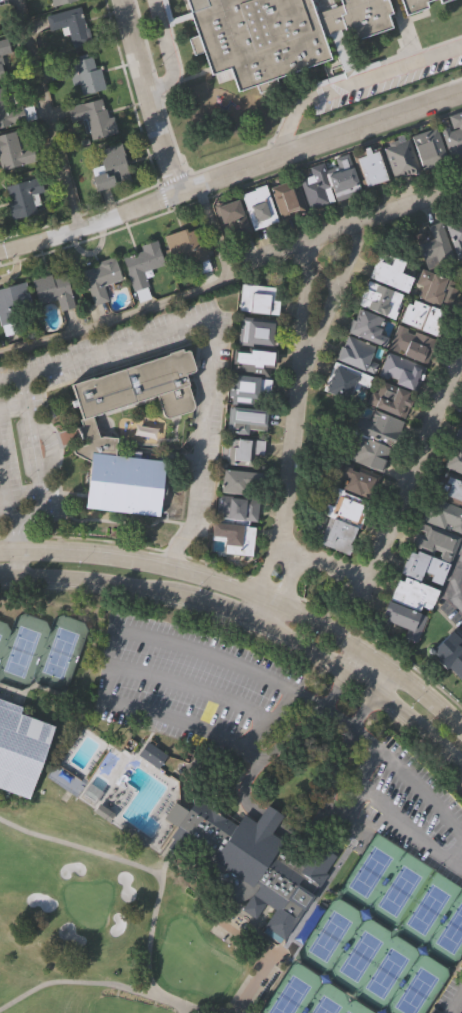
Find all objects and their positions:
building: (440, 0)
building: (60, 2)
building: (2, 3)
building: (413, 5)
road: (323, 11)
building: (185, 14)
road: (185, 15)
building: (69, 26)
building: (275, 34)
road: (144, 37)
road: (175, 49)
flagpole: (398, 51)
road: (169, 52)
road: (408, 53)
road: (397, 55)
building: (3, 56)
building: (341, 61)
road: (343, 62)
street lamp: (161, 63)
building: (83, 74)
road: (353, 74)
road: (194, 75)
road: (355, 82)
road: (157, 86)
road: (336, 88)
road: (148, 96)
road: (321, 99)
road: (378, 106)
building: (9, 111)
road: (46, 114)
building: (96, 119)
building: (454, 137)
road: (282, 139)
building: (430, 146)
building: (13, 153)
building: (403, 157)
building: (372, 165)
building: (109, 168)
road: (189, 172)
road: (231, 173)
building: (344, 176)
road: (161, 182)
building: (315, 185)
building: (288, 197)
building: (21, 198)
building: (260, 205)
building: (231, 217)
building: (456, 230)
road: (311, 238)
building: (433, 244)
building: (187, 246)
road: (347, 262)
building: (142, 265)
building: (393, 272)
building: (99, 280)
building: (436, 287)
building: (52, 289)
building: (381, 297)
building: (259, 299)
road: (159, 300)
building: (14, 304)
building: (424, 315)
building: (368, 326)
building: (258, 330)
road: (148, 338)
building: (412, 342)
building: (358, 353)
building: (256, 360)
building: (402, 370)
building: (344, 379)
road: (10, 382)
building: (248, 388)
road: (296, 394)
building: (390, 399)
building: (247, 419)
building: (461, 421)
building: (88, 429)
building: (459, 433)
building: (363, 440)
building: (244, 449)
building: (454, 456)
building: (241, 477)
building: (357, 478)
building: (450, 484)
road: (7, 497)
building: (239, 505)
road: (400, 508)
building: (444, 513)
building: (341, 519)
building: (235, 535)
building: (416, 550)
road: (137, 558)
road: (15, 563)
road: (274, 573)
road: (248, 576)
road: (454, 580)
road: (131, 584)
building: (411, 604)
road: (264, 609)
park: (21, 643)
park: (60, 644)
road: (320, 650)
building: (451, 651)
road: (372, 653)
road: (354, 656)
road: (364, 662)
road: (386, 679)
road: (108, 680)
road: (335, 686)
road: (368, 705)
road: (339, 716)
road: (421, 727)
building: (21, 746)
building: (154, 753)
road: (413, 778)
road: (244, 791)
building: (88, 794)
road: (329, 796)
road: (395, 816)
road: (267, 822)
park: (210, 829)
building: (255, 860)
park: (369, 865)
road: (140, 866)
park: (399, 882)
park: (427, 901)
park: (451, 924)
park: (328, 929)
park: (359, 949)
road: (272, 957)
park: (386, 965)
road: (98, 983)
park: (415, 985)
park: (287, 992)
park: (323, 1002)
road: (456, 1004)
park: (350, 1009)
road: (187, 1011)

